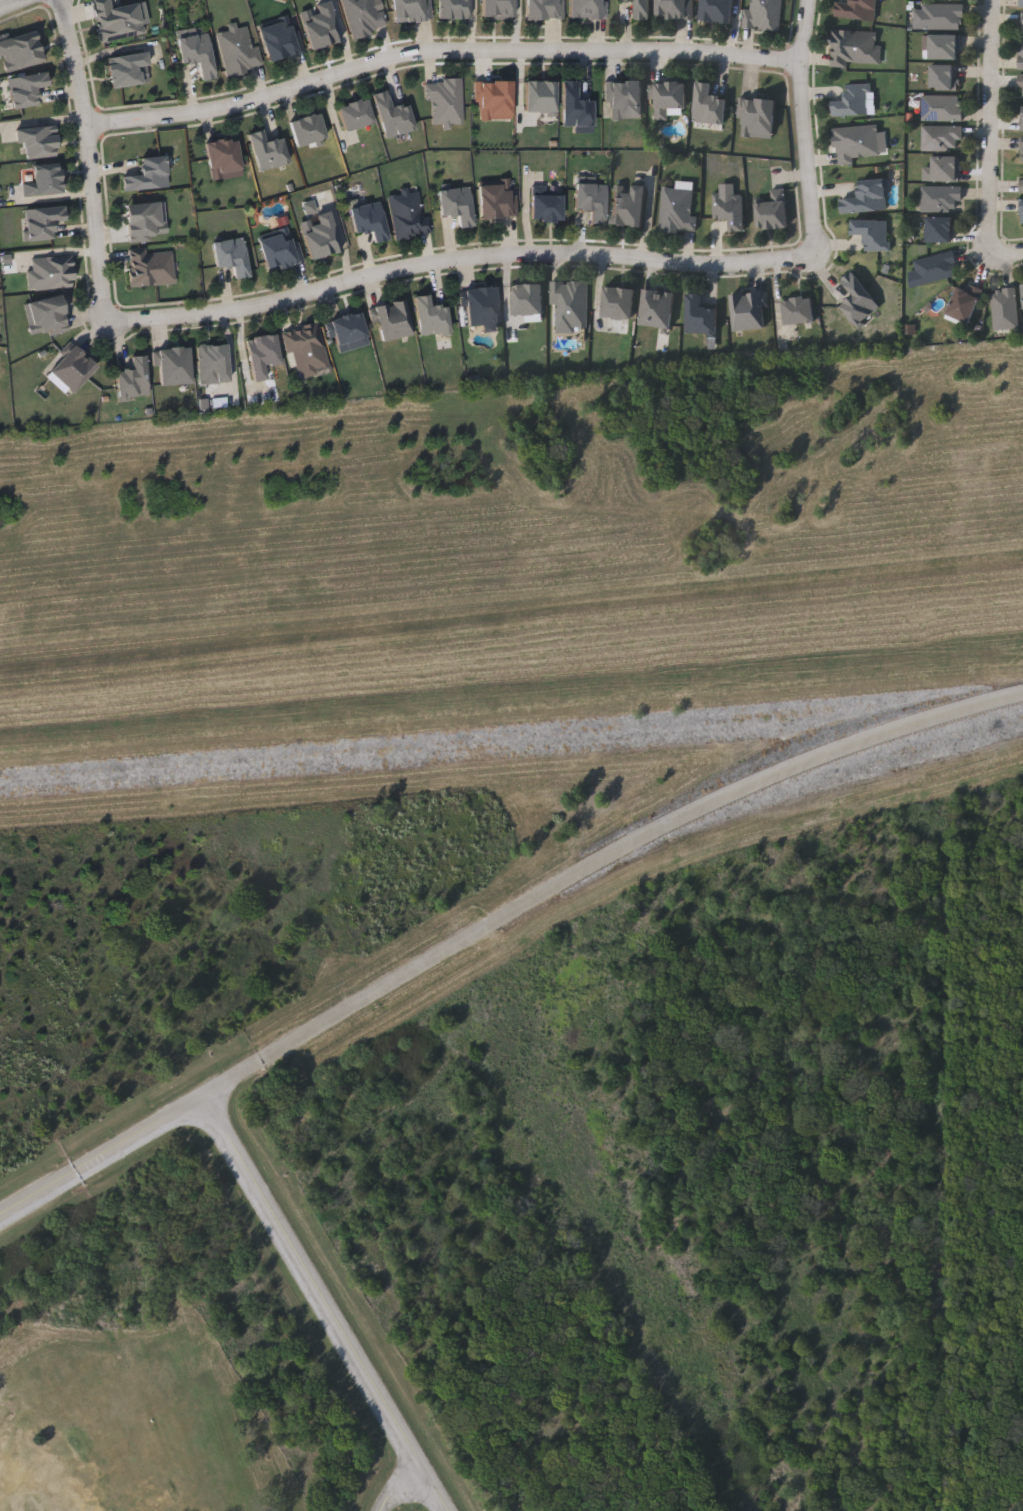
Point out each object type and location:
building: (948, 0)
building: (1020, 3)
road: (12, 4)
building: (453, 9)
building: (497, 9)
building: (585, 9)
building: (674, 9)
building: (410, 10)
building: (544, 10)
building: (643, 10)
building: (716, 10)
building: (858, 10)
building: (763, 14)
building: (363, 16)
building: (946, 18)
building: (118, 20)
building: (320, 25)
building: (280, 38)
building: (856, 48)
building: (947, 49)
building: (237, 50)
building: (19, 51)
road: (441, 51)
building: (197, 53)
building: (1020, 56)
building: (125, 68)
building: (946, 80)
building: (1020, 82)
building: (26, 87)
building: (540, 96)
building: (669, 98)
building: (624, 99)
building: (445, 100)
building: (495, 100)
building: (855, 100)
building: (709, 105)
building: (575, 106)
building: (944, 110)
building: (355, 114)
building: (393, 115)
building: (758, 117)
road: (993, 118)
building: (1022, 118)
road: (805, 126)
building: (307, 129)
building: (944, 139)
building: (38, 141)
building: (856, 143)
building: (1022, 149)
building: (267, 150)
building: (223, 155)
road: (92, 160)
building: (948, 170)
building: (148, 173)
building: (44, 182)
building: (1021, 186)
building: (868, 196)
building: (944, 199)
building: (497, 200)
building: (592, 200)
building: (457, 205)
building: (629, 205)
building: (547, 207)
building: (730, 209)
building: (677, 210)
building: (773, 211)
building: (1021, 211)
building: (407, 215)
building: (145, 220)
building: (369, 220)
building: (42, 221)
building: (942, 231)
building: (872, 232)
building: (320, 235)
building: (280, 250)
road: (1003, 250)
building: (231, 255)
road: (458, 259)
building: (150, 267)
building: (939, 269)
building: (50, 271)
building: (528, 299)
building: (859, 300)
building: (618, 303)
building: (964, 303)
building: (570, 304)
building: (480, 305)
building: (657, 308)
building: (1004, 308)
building: (798, 310)
building: (748, 311)
building: (45, 314)
building: (431, 316)
building: (701, 317)
building: (392, 320)
building: (346, 331)
building: (305, 347)
building: (262, 354)
building: (212, 362)
building: (174, 364)
building: (73, 367)
building: (132, 377)
road: (629, 849)
road: (231, 1078)
park: (519, 1152)
road: (100, 1155)
road: (323, 1303)
road: (400, 1486)

